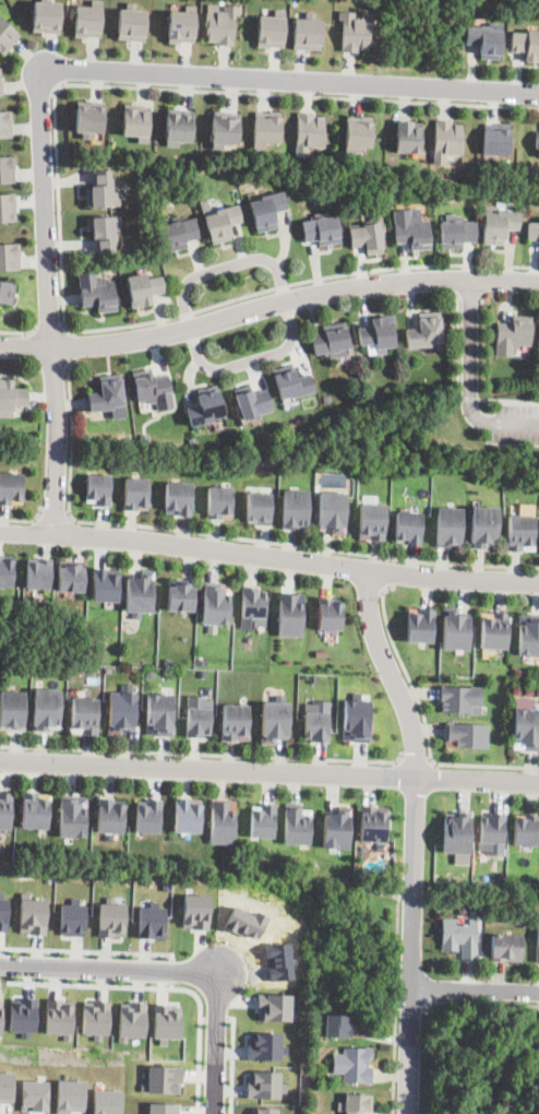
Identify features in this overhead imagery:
building: (46, 15)
building: (87, 19)
building: (132, 22)
building: (219, 22)
building: (181, 24)
building: (271, 28)
building: (355, 29)
building: (307, 31)
building: (7, 35)
building: (486, 38)
building: (526, 43)
road: (62, 70)
building: (0, 82)
building: (88, 117)
building: (135, 121)
building: (5, 123)
building: (178, 126)
building: (266, 128)
building: (224, 129)
building: (308, 132)
building: (358, 132)
building: (408, 135)
building: (495, 138)
building: (446, 139)
building: (537, 139)
building: (7, 168)
building: (101, 190)
building: (204, 204)
building: (7, 205)
road: (60, 208)
building: (266, 210)
building: (221, 222)
building: (498, 224)
building: (322, 229)
building: (410, 230)
building: (101, 232)
building: (534, 232)
building: (178, 233)
building: (456, 234)
building: (367, 237)
building: (10, 256)
road: (226, 265)
road: (453, 280)
building: (144, 287)
building: (7, 291)
building: (97, 291)
road: (267, 305)
road: (50, 328)
road: (21, 332)
building: (424, 332)
building: (378, 333)
building: (513, 335)
building: (331, 341)
road: (459, 345)
road: (72, 346)
road: (470, 357)
road: (248, 360)
building: (292, 381)
building: (154, 388)
building: (368, 389)
building: (11, 396)
building: (107, 396)
building: (326, 399)
building: (252, 402)
building: (205, 406)
road: (514, 425)
building: (145, 438)
building: (192, 441)
building: (257, 458)
building: (11, 486)
building: (99, 488)
building: (136, 493)
building: (178, 497)
building: (219, 501)
building: (259, 507)
building: (295, 508)
building: (332, 511)
road: (56, 517)
building: (372, 520)
road: (25, 521)
building: (448, 526)
building: (483, 526)
building: (407, 528)
building: (522, 532)
road: (224, 536)
road: (268, 558)
building: (5, 569)
building: (38, 572)
road: (391, 573)
building: (71, 574)
building: (105, 583)
building: (140, 593)
building: (181, 595)
building: (216, 602)
building: (253, 607)
building: (330, 613)
building: (290, 614)
building: (421, 625)
building: (456, 629)
building: (493, 630)
building: (528, 635)
building: (108, 668)
building: (149, 674)
building: (462, 699)
building: (45, 709)
building: (121, 709)
building: (10, 710)
building: (159, 713)
building: (84, 714)
building: (197, 715)
building: (357, 719)
building: (274, 720)
building: (316, 720)
building: (236, 721)
road: (426, 721)
building: (526, 724)
road: (408, 726)
building: (467, 734)
road: (204, 754)
road: (417, 759)
road: (269, 772)
building: (4, 809)
building: (35, 809)
building: (111, 815)
building: (188, 815)
building: (73, 816)
building: (148, 816)
building: (263, 820)
building: (223, 821)
building: (298, 823)
building: (373, 823)
building: (337, 828)
building: (525, 829)
building: (456, 831)
building: (492, 832)
building: (1, 845)
building: (166, 885)
building: (195, 911)
building: (3, 912)
building: (32, 914)
building: (72, 917)
building: (111, 917)
building: (151, 921)
building: (519, 921)
building: (460, 937)
building: (506, 948)
building: (537, 948)
road: (87, 950)
road: (110, 970)
road: (171, 971)
road: (164, 985)
road: (475, 991)
road: (410, 1000)
road: (411, 1003)
road: (478, 1003)
building: (275, 1007)
road: (396, 1007)
building: (23, 1016)
building: (59, 1017)
building: (95, 1018)
road: (202, 1018)
road: (216, 1018)
building: (131, 1019)
building: (166, 1022)
building: (337, 1027)
road: (217, 1043)
building: (536, 1043)
building: (264, 1046)
road: (232, 1063)
building: (356, 1065)
building: (163, 1079)
building: (263, 1083)
building: (5, 1086)
building: (70, 1094)
building: (34, 1095)
building: (106, 1101)
building: (355, 1104)
building: (164, 1107)
building: (264, 1111)

